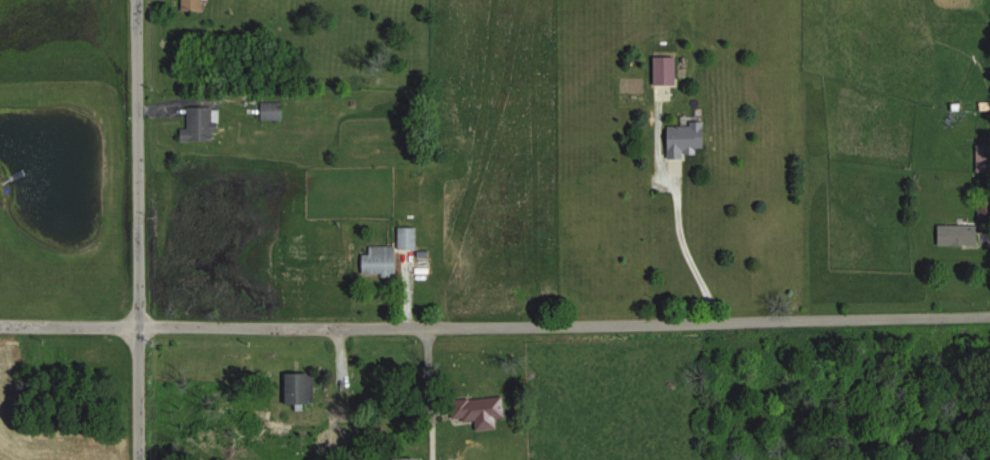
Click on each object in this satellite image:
building: (189, 5)
building: (661, 70)
building: (269, 111)
building: (197, 125)
building: (682, 137)
building: (449, 148)
building: (982, 158)
building: (982, 211)
road: (137, 230)
building: (954, 235)
building: (404, 244)
road: (683, 247)
building: (377, 261)
road: (495, 326)
building: (297, 388)
building: (476, 411)
building: (401, 459)

